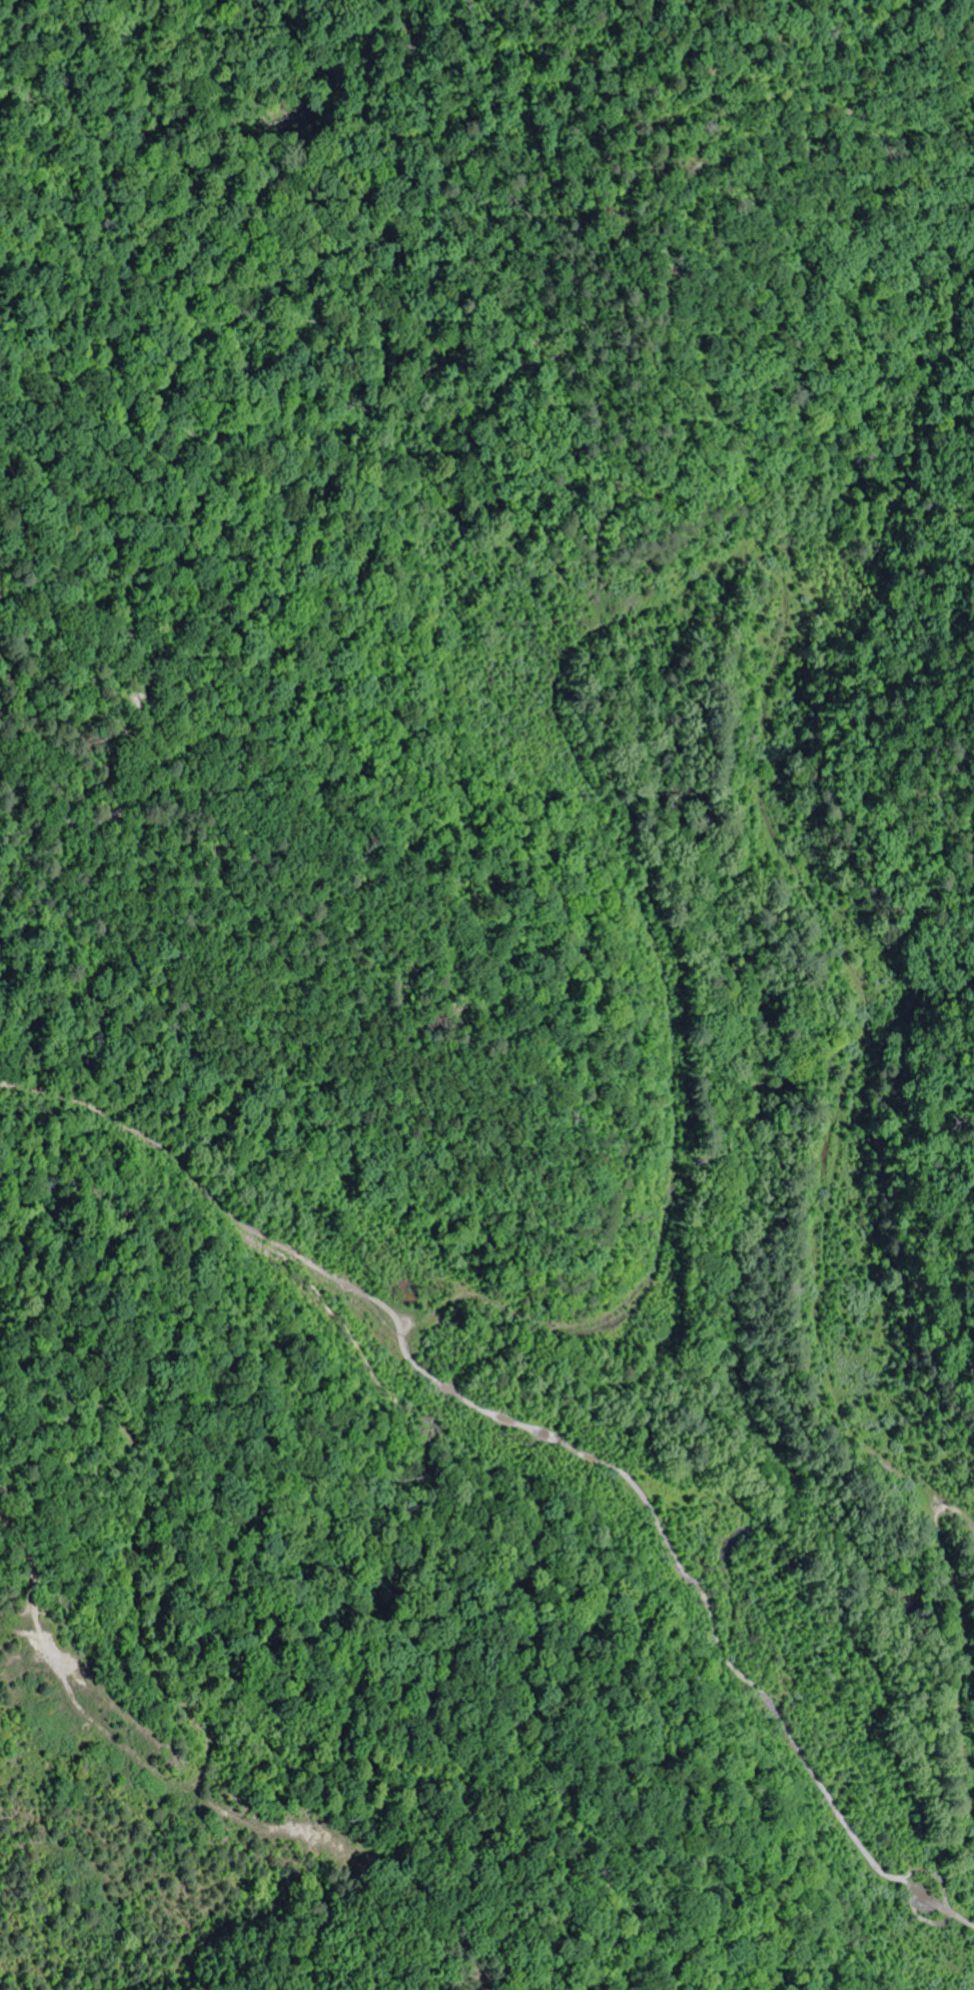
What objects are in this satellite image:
road: (800, 1607)

